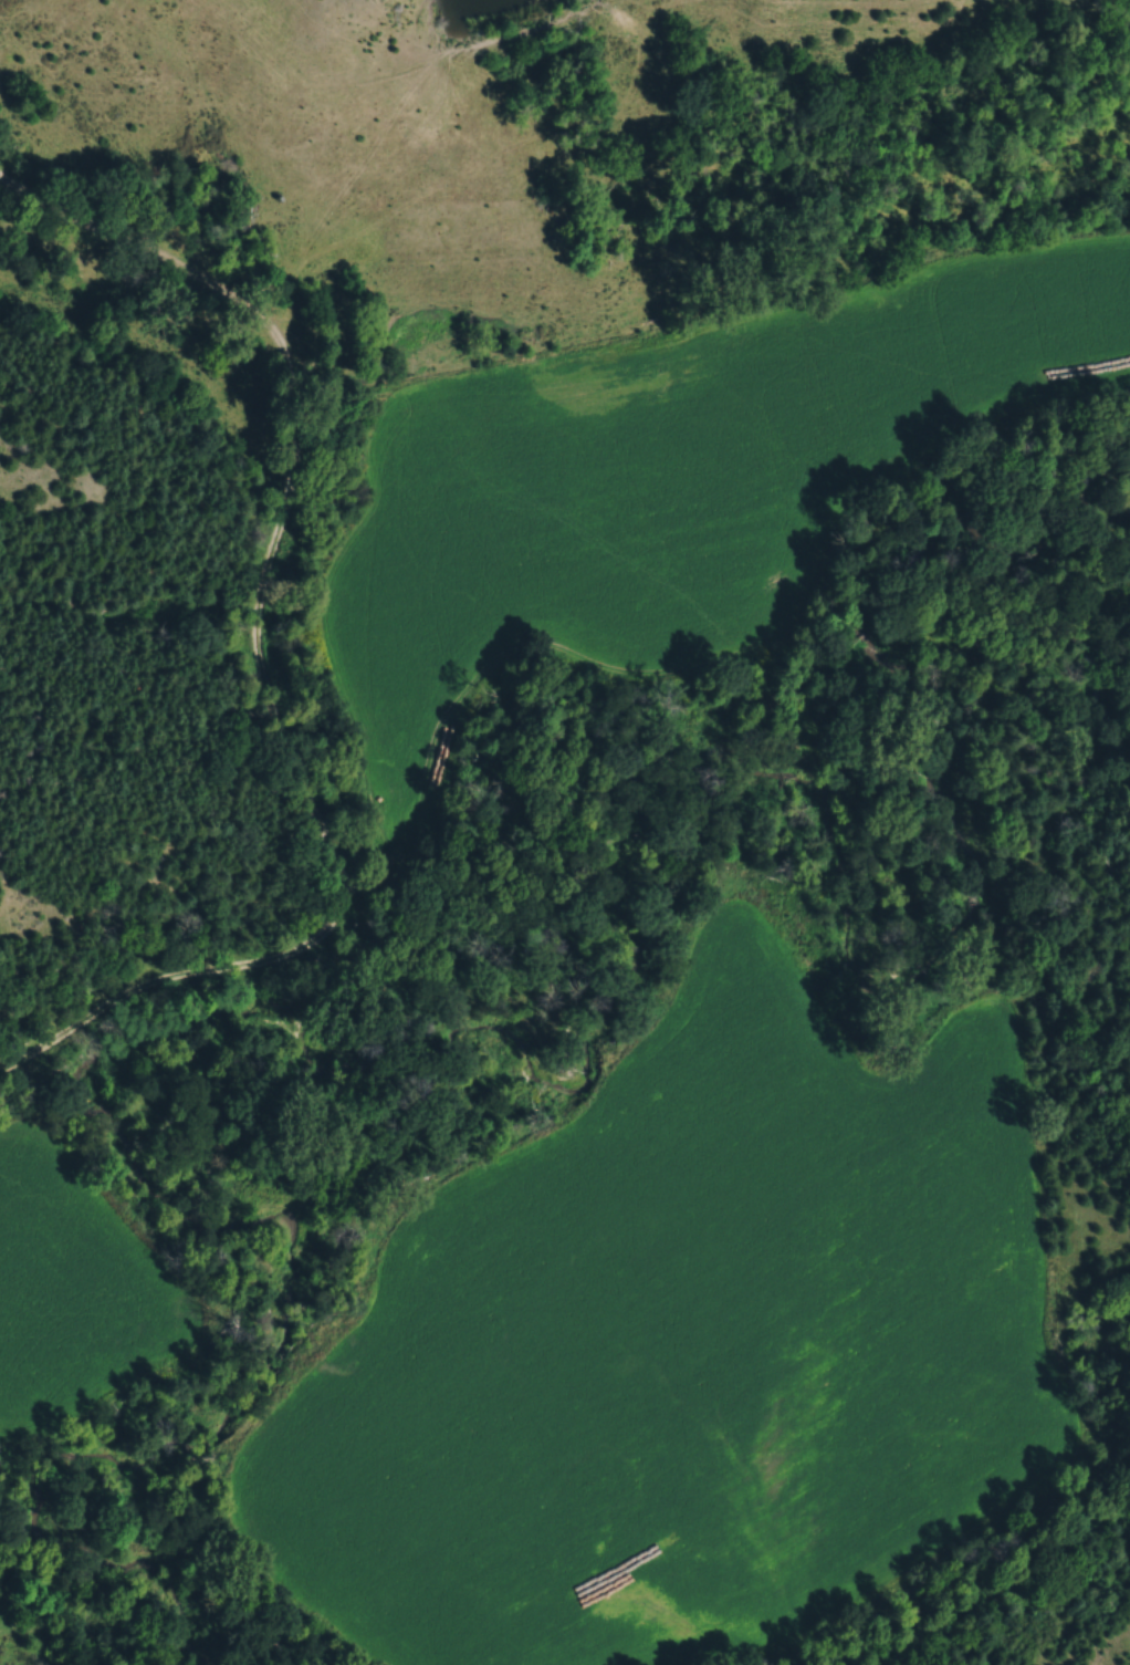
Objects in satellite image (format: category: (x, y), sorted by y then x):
road: (264, 665)

